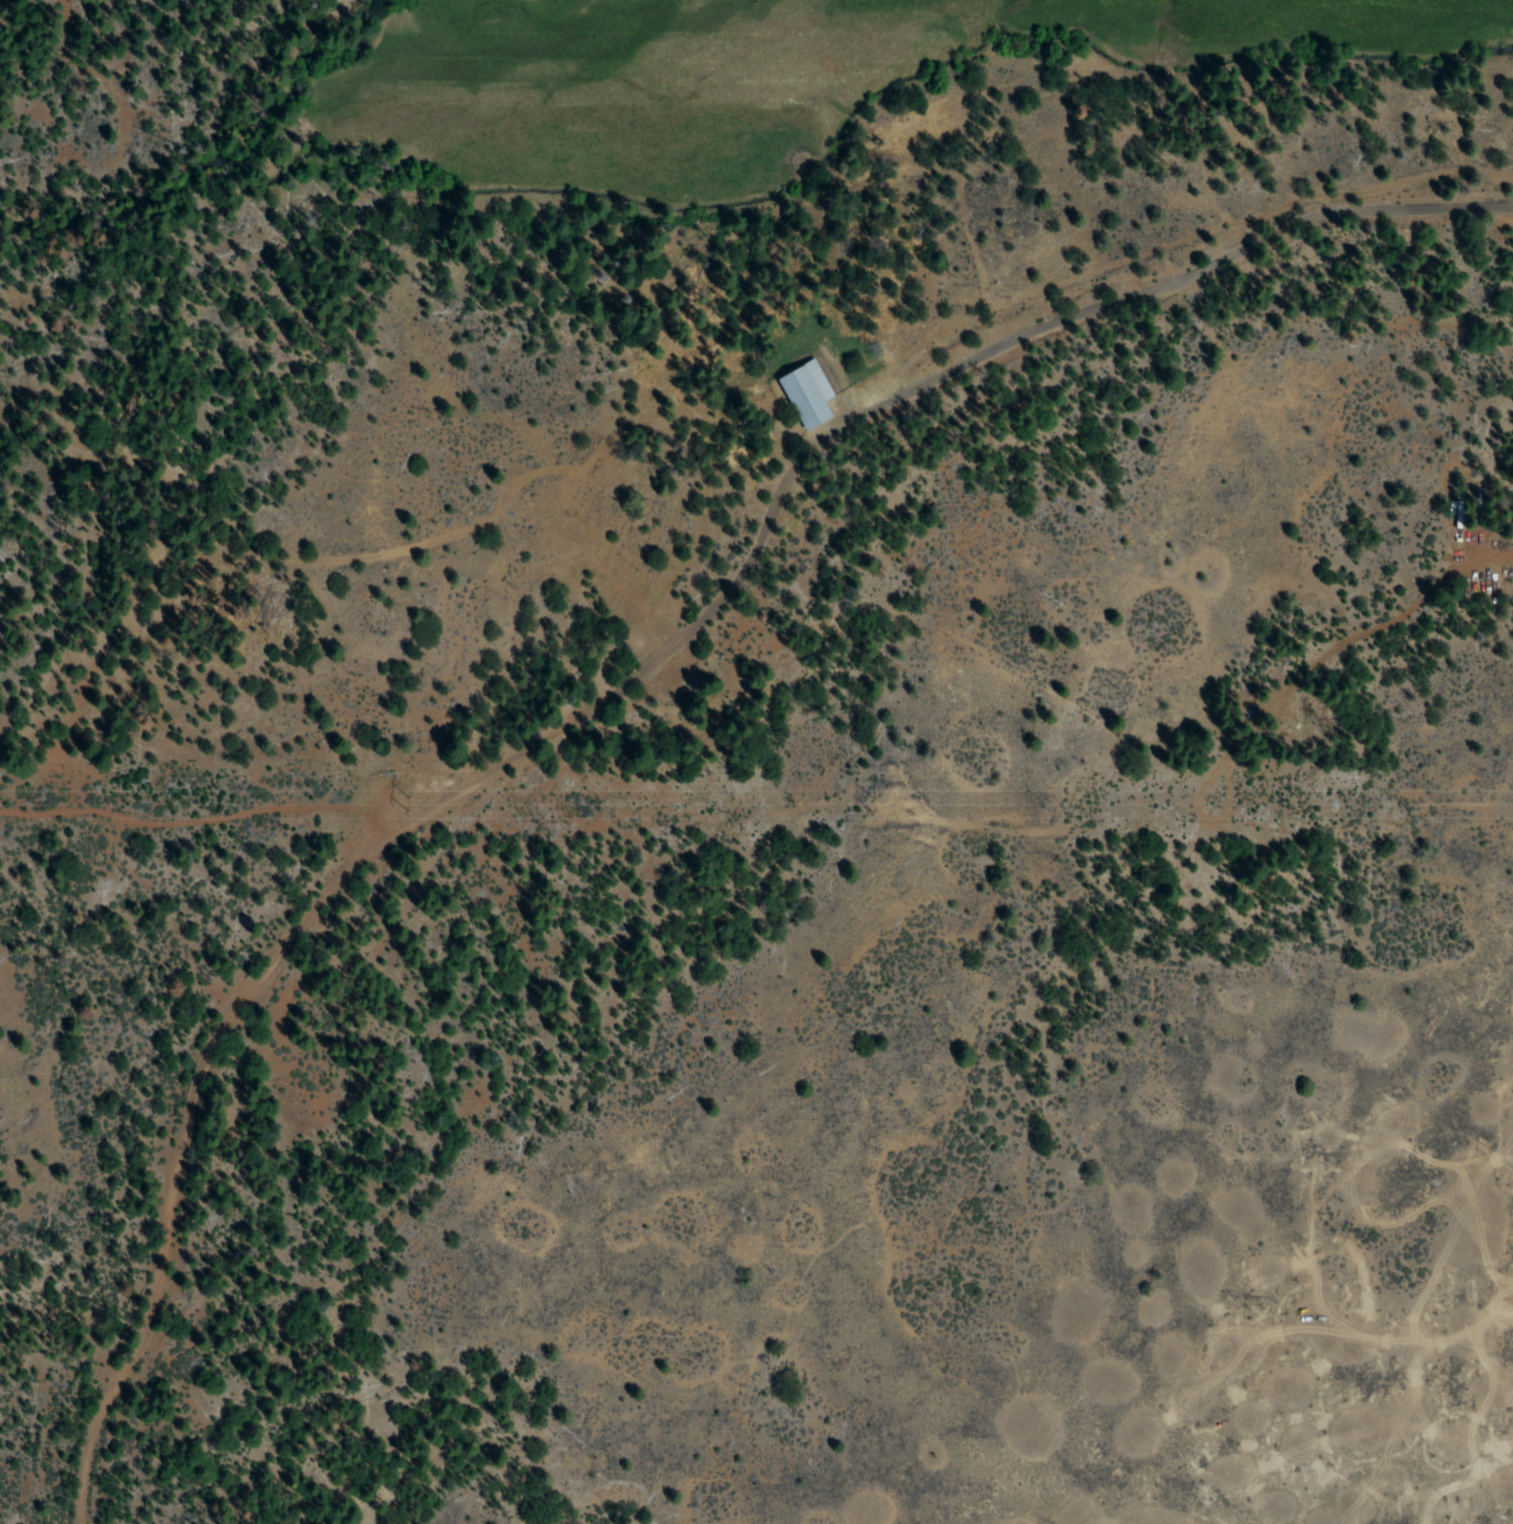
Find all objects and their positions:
road: (736, 797)
power tower: (1295, 800)
power tower: (405, 801)
power tower: (867, 801)

